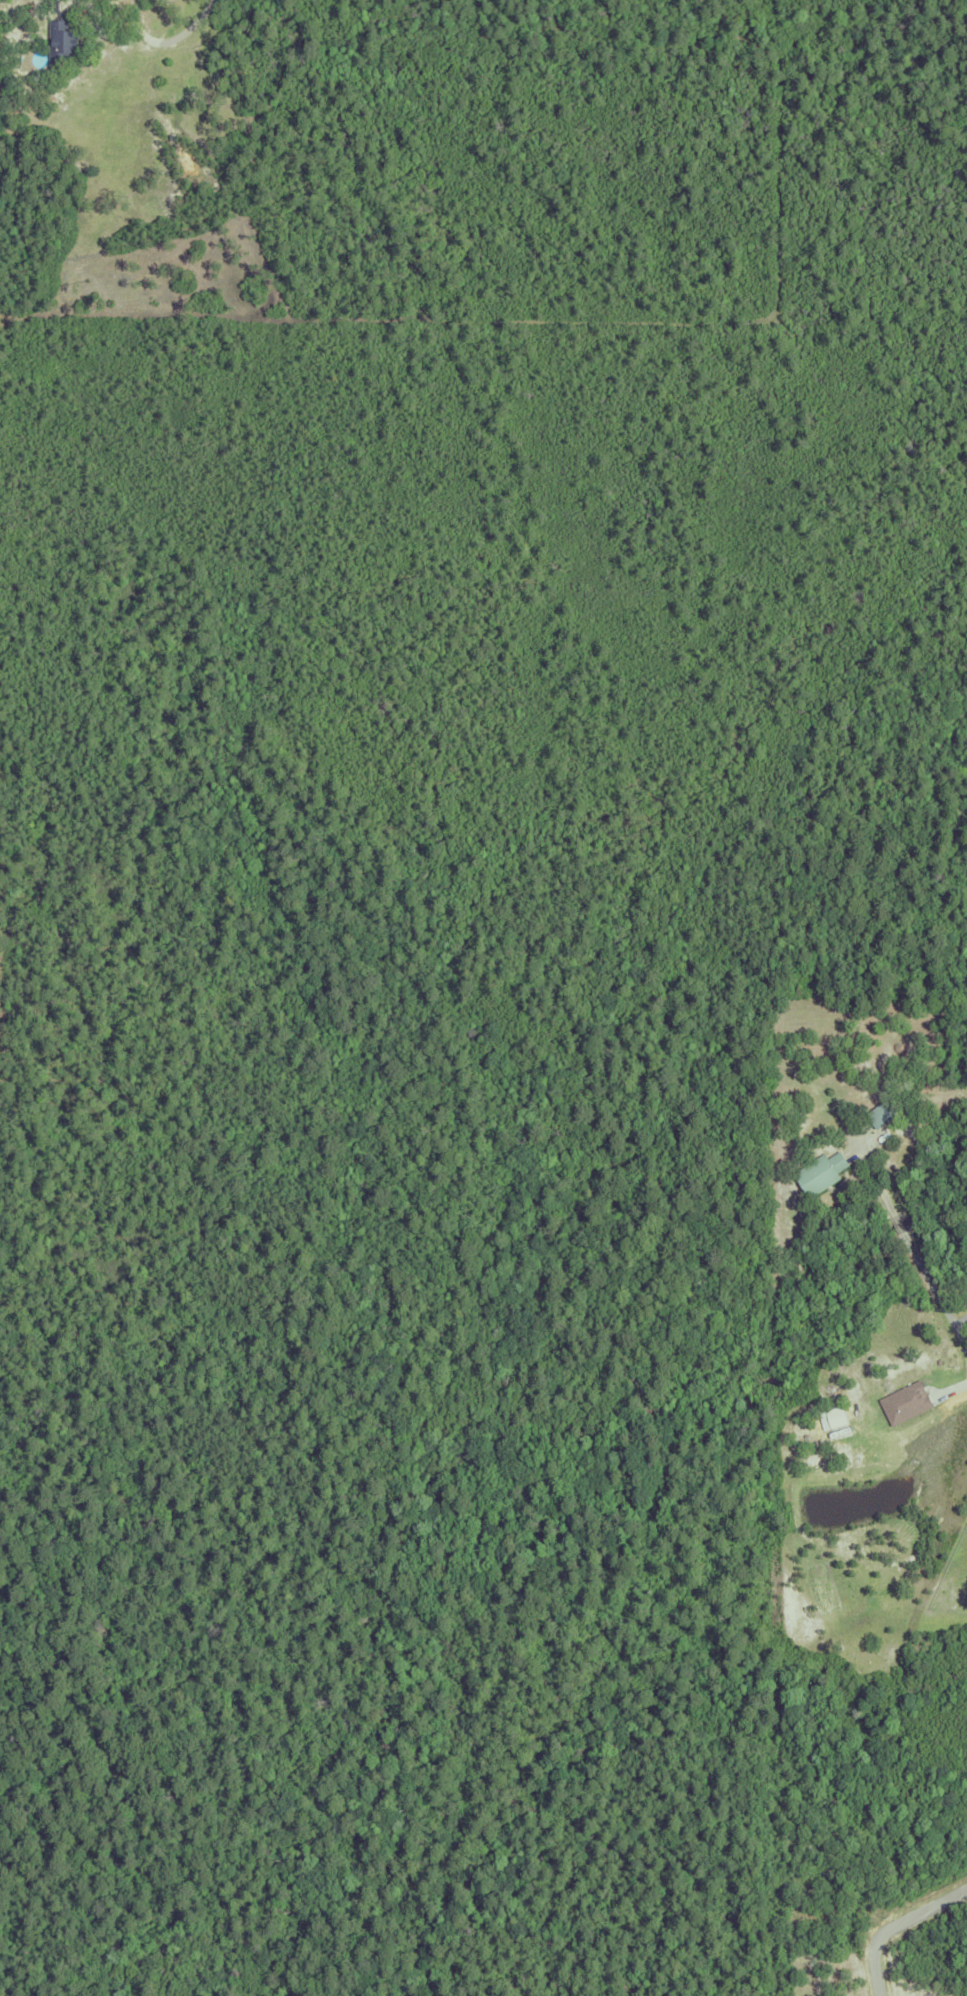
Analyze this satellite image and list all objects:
building: (60, 35)
road: (161, 39)
building: (882, 1111)
building: (819, 1171)
road: (926, 1276)
building: (909, 1402)
road: (893, 1921)

